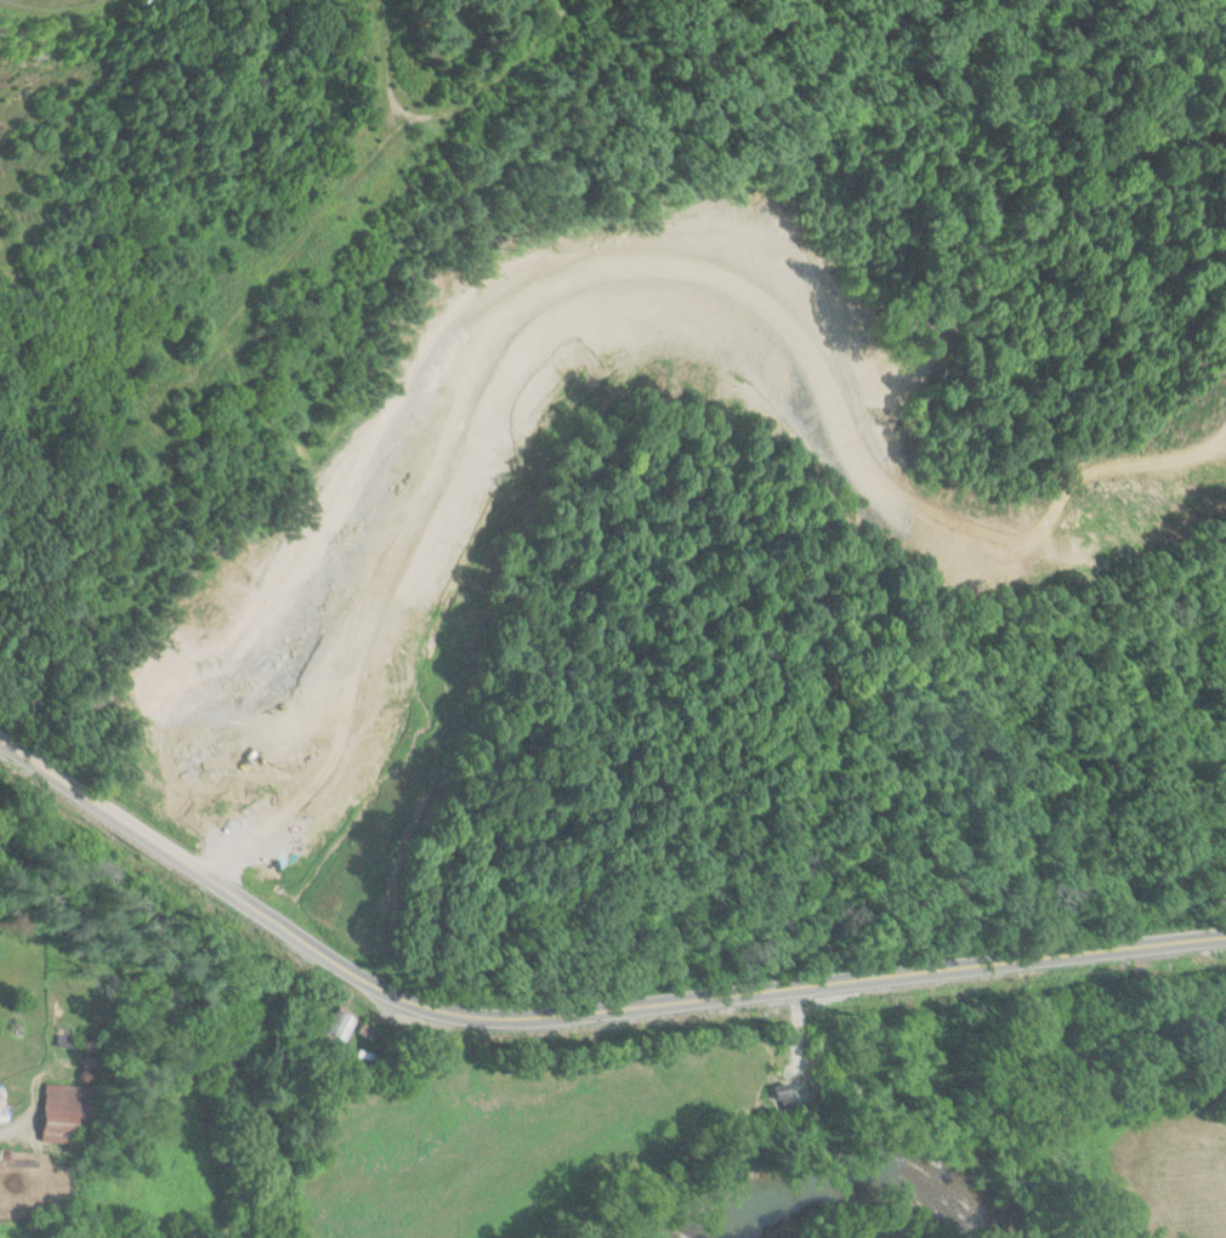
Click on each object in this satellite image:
park: (50, 2)
park: (454, 29)
road: (439, 110)
road: (257, 283)
road: (574, 1011)
building: (339, 1026)
building: (2, 1107)
building: (66, 1113)
river: (863, 1196)

